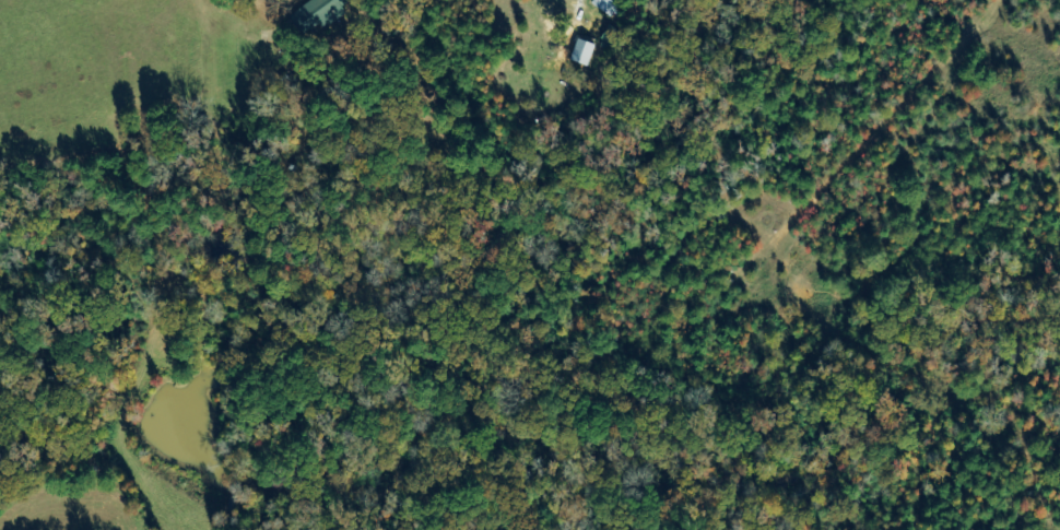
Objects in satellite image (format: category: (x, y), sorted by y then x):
building: (320, 13)

